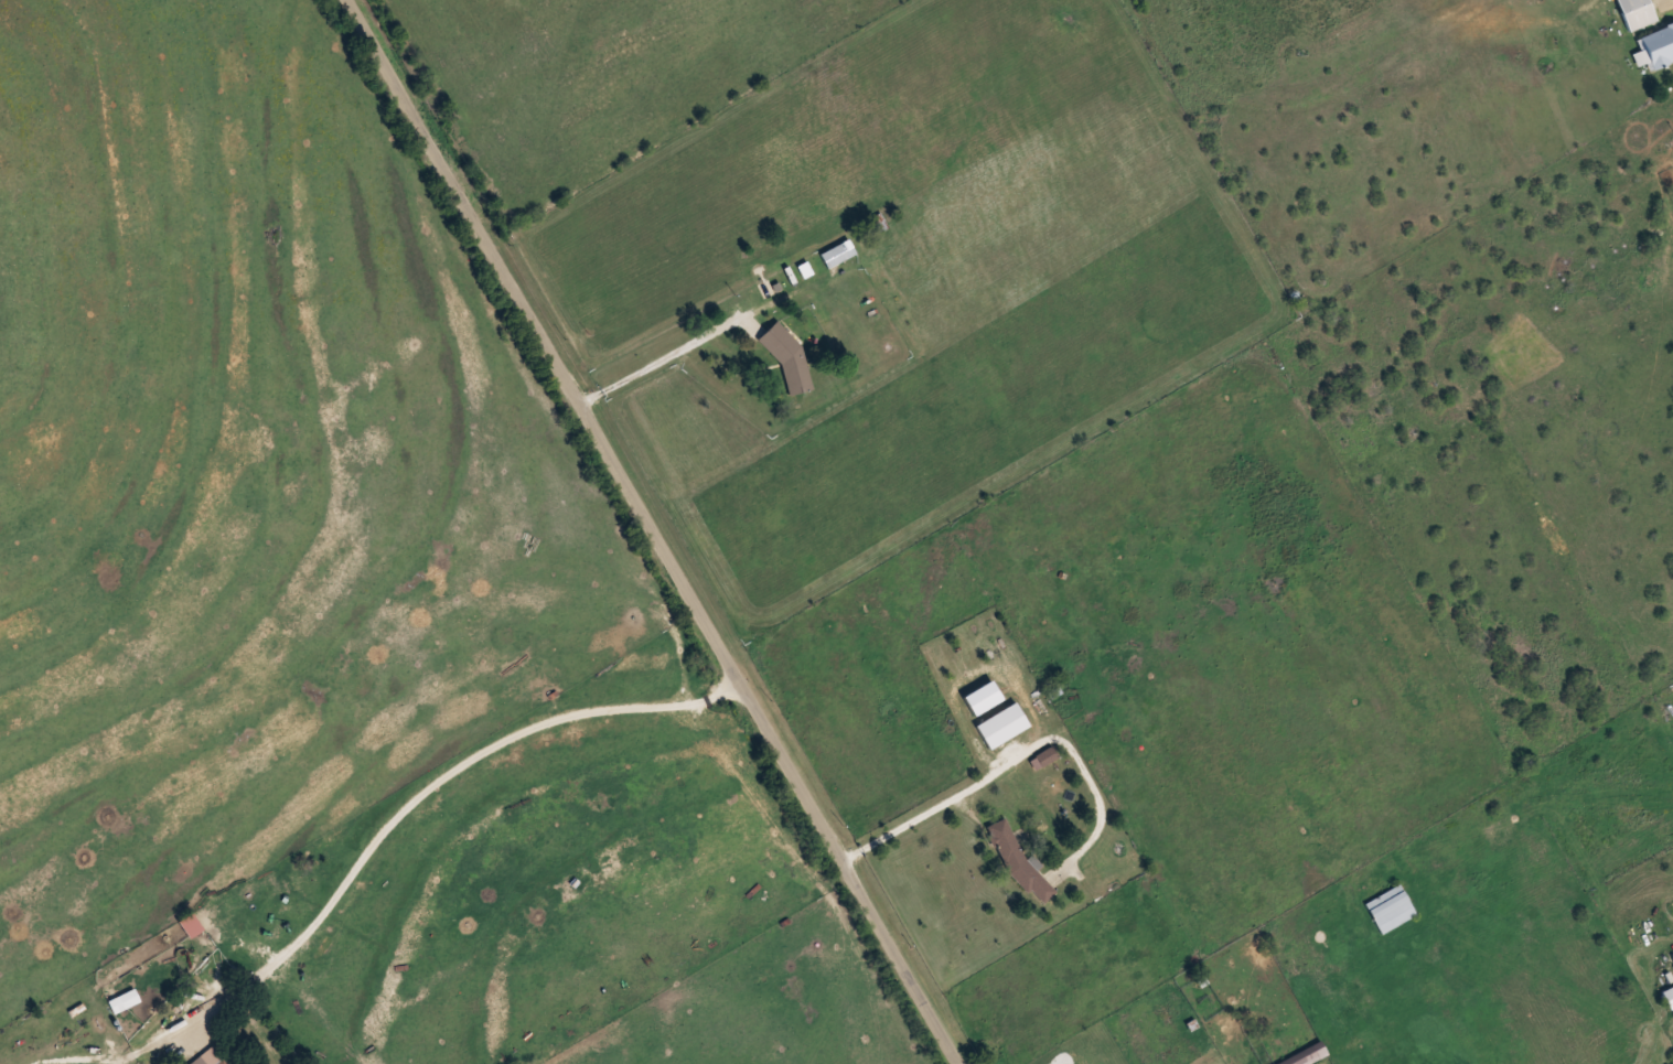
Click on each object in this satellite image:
building: (1636, 12)
building: (1654, 46)
building: (837, 254)
road: (652, 535)
building: (1001, 724)
building: (1018, 861)
building: (1390, 909)
building: (191, 924)
building: (1669, 996)
building: (124, 1000)
building: (1306, 1055)
building: (210, 1057)

